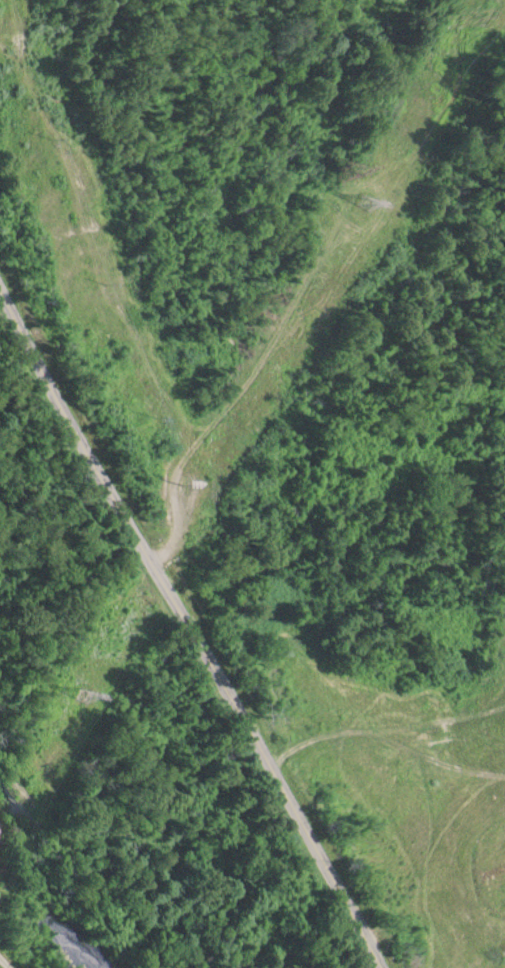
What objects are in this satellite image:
power tower: (363, 198)
road: (190, 626)
power tower: (79, 692)

